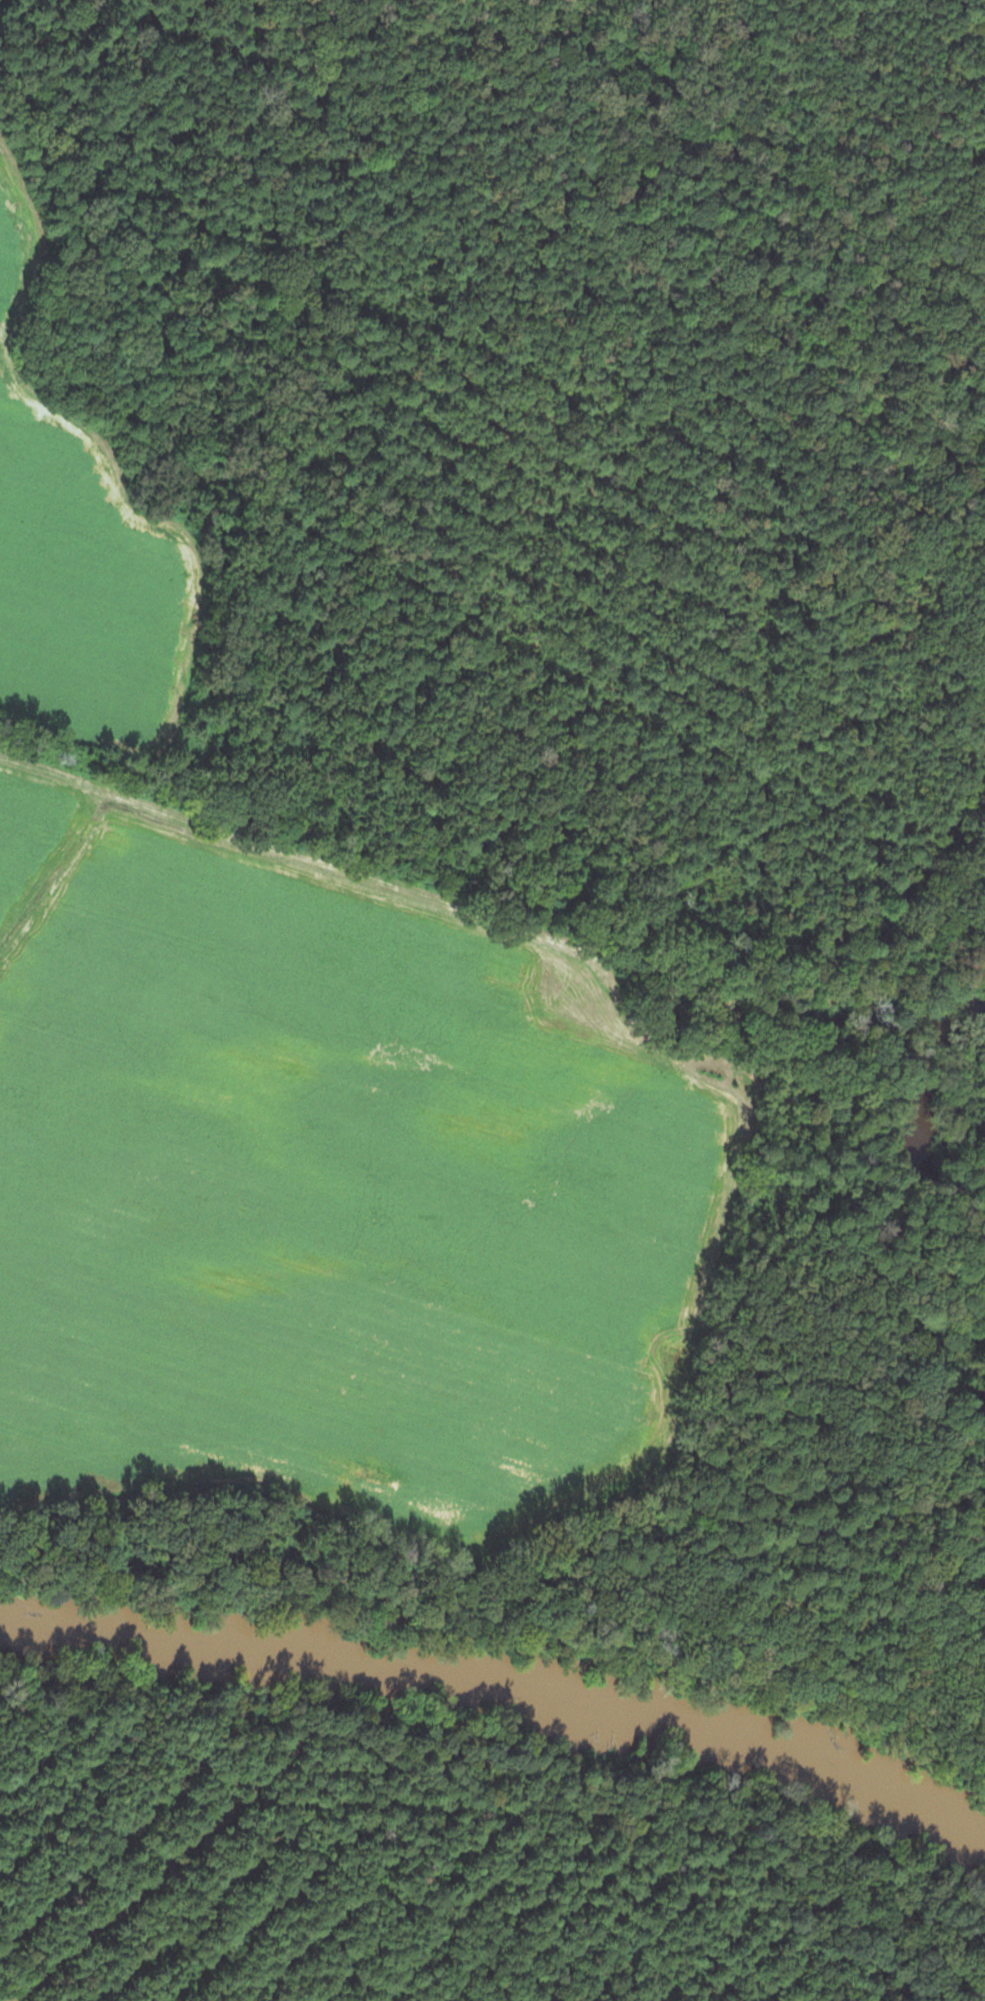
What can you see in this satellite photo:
road: (279, 846)
river: (506, 1686)

